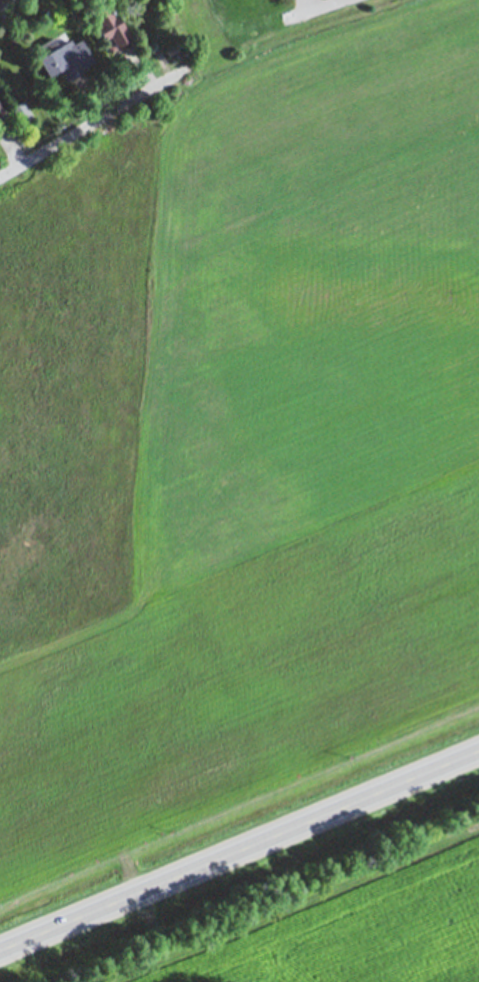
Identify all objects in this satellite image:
road: (311, 5)
building: (109, 28)
building: (65, 57)
building: (22, 112)
building: (1, 114)
road: (92, 123)
road: (239, 849)

